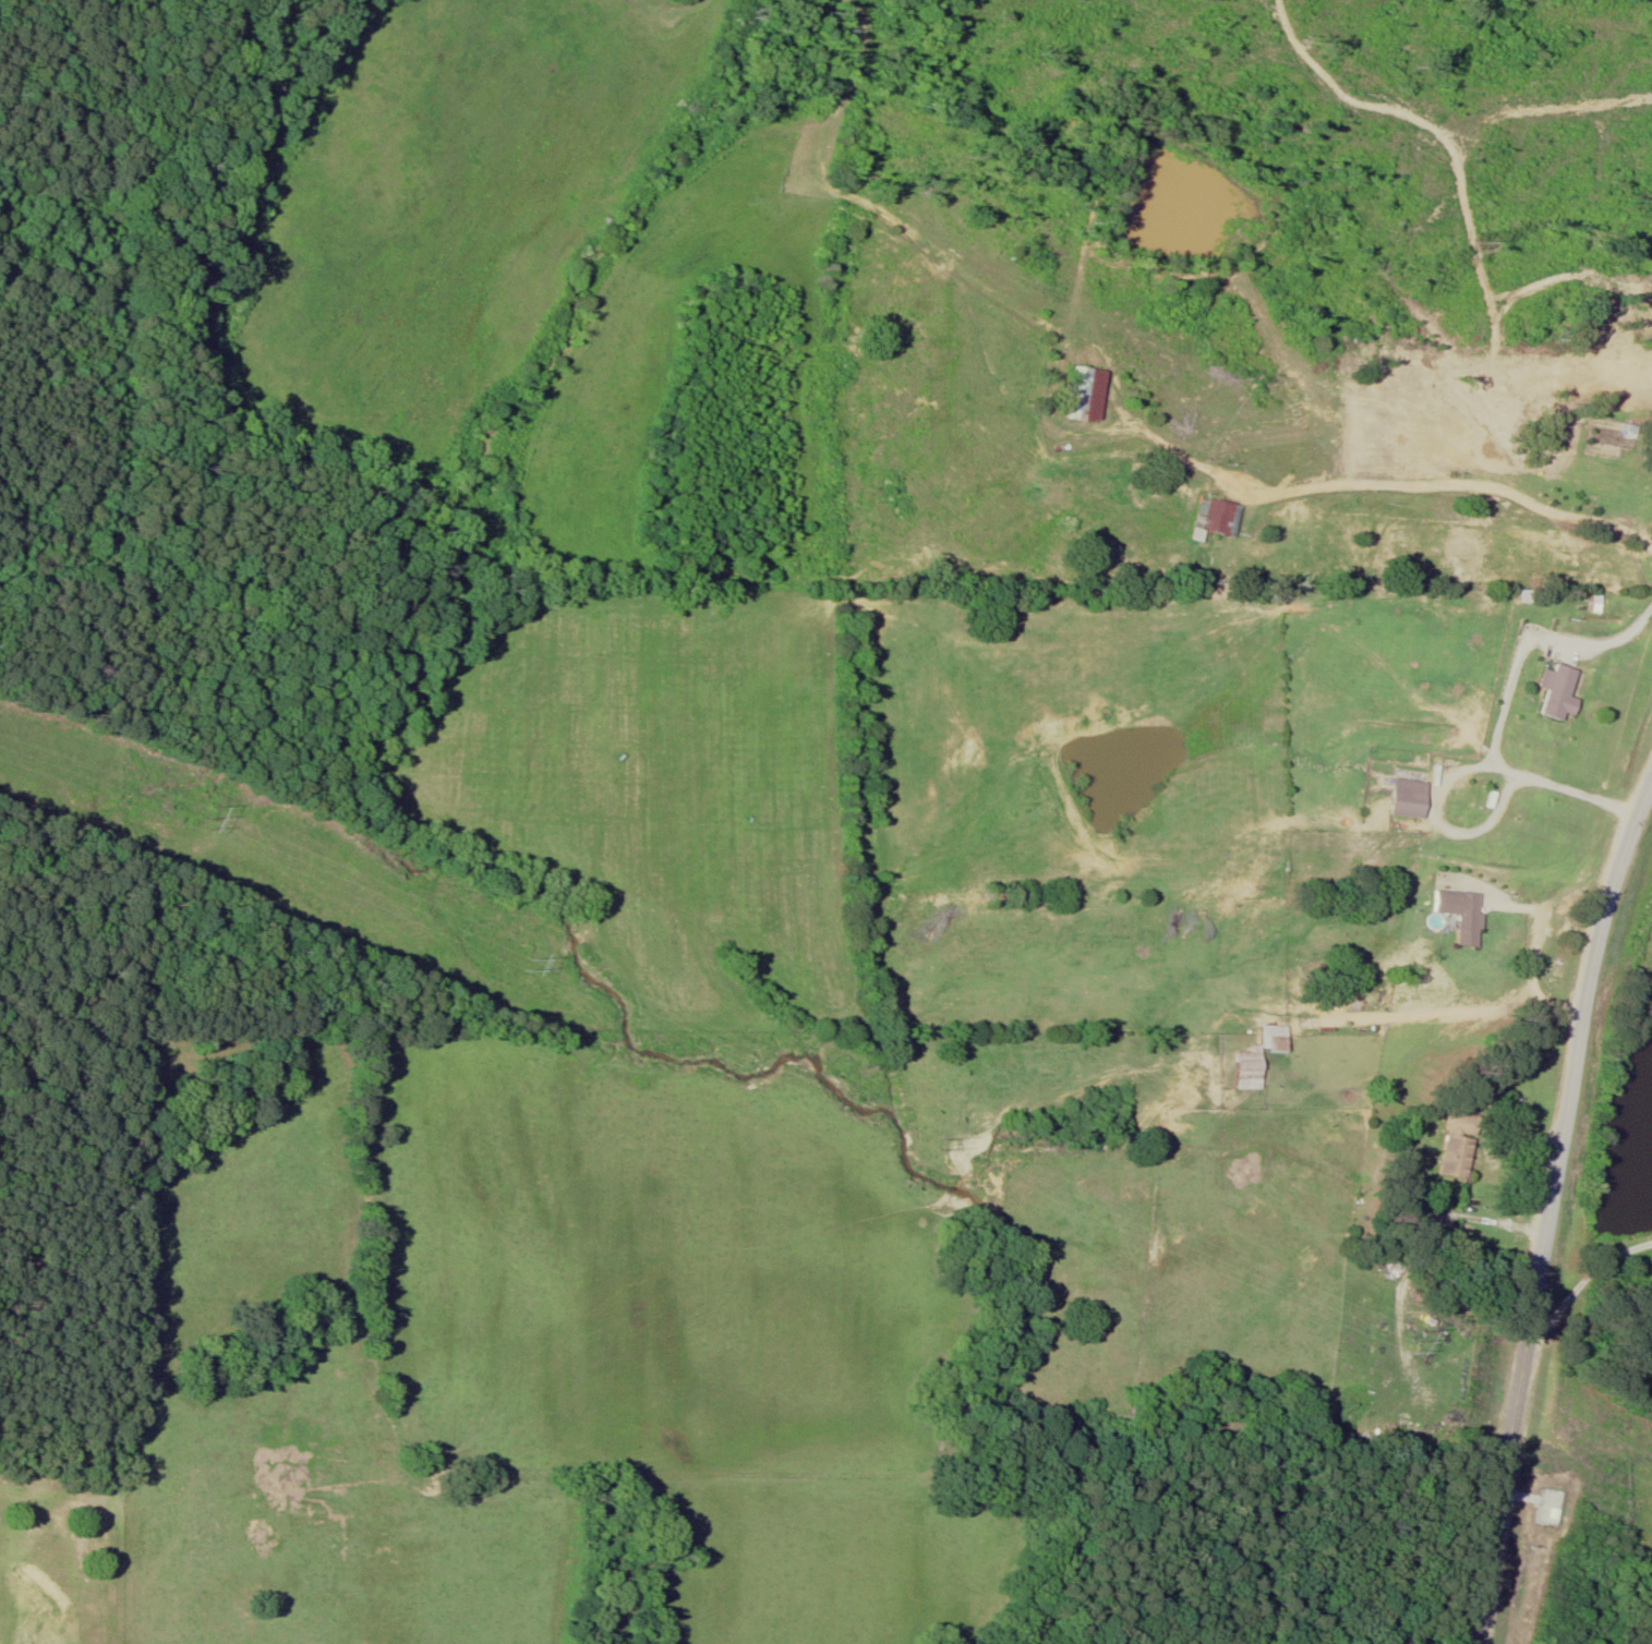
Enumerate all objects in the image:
building: (1077, 395)
road: (1403, 460)
road: (1470, 492)
building: (1209, 519)
building: (1553, 692)
road: (1504, 704)
building: (1401, 798)
building: (1463, 921)
road: (1538, 932)
power tower: (529, 964)
road: (1444, 1010)
building: (1252, 1059)
building: (1454, 1146)
road: (1545, 1202)
power tower: (1406, 1344)

